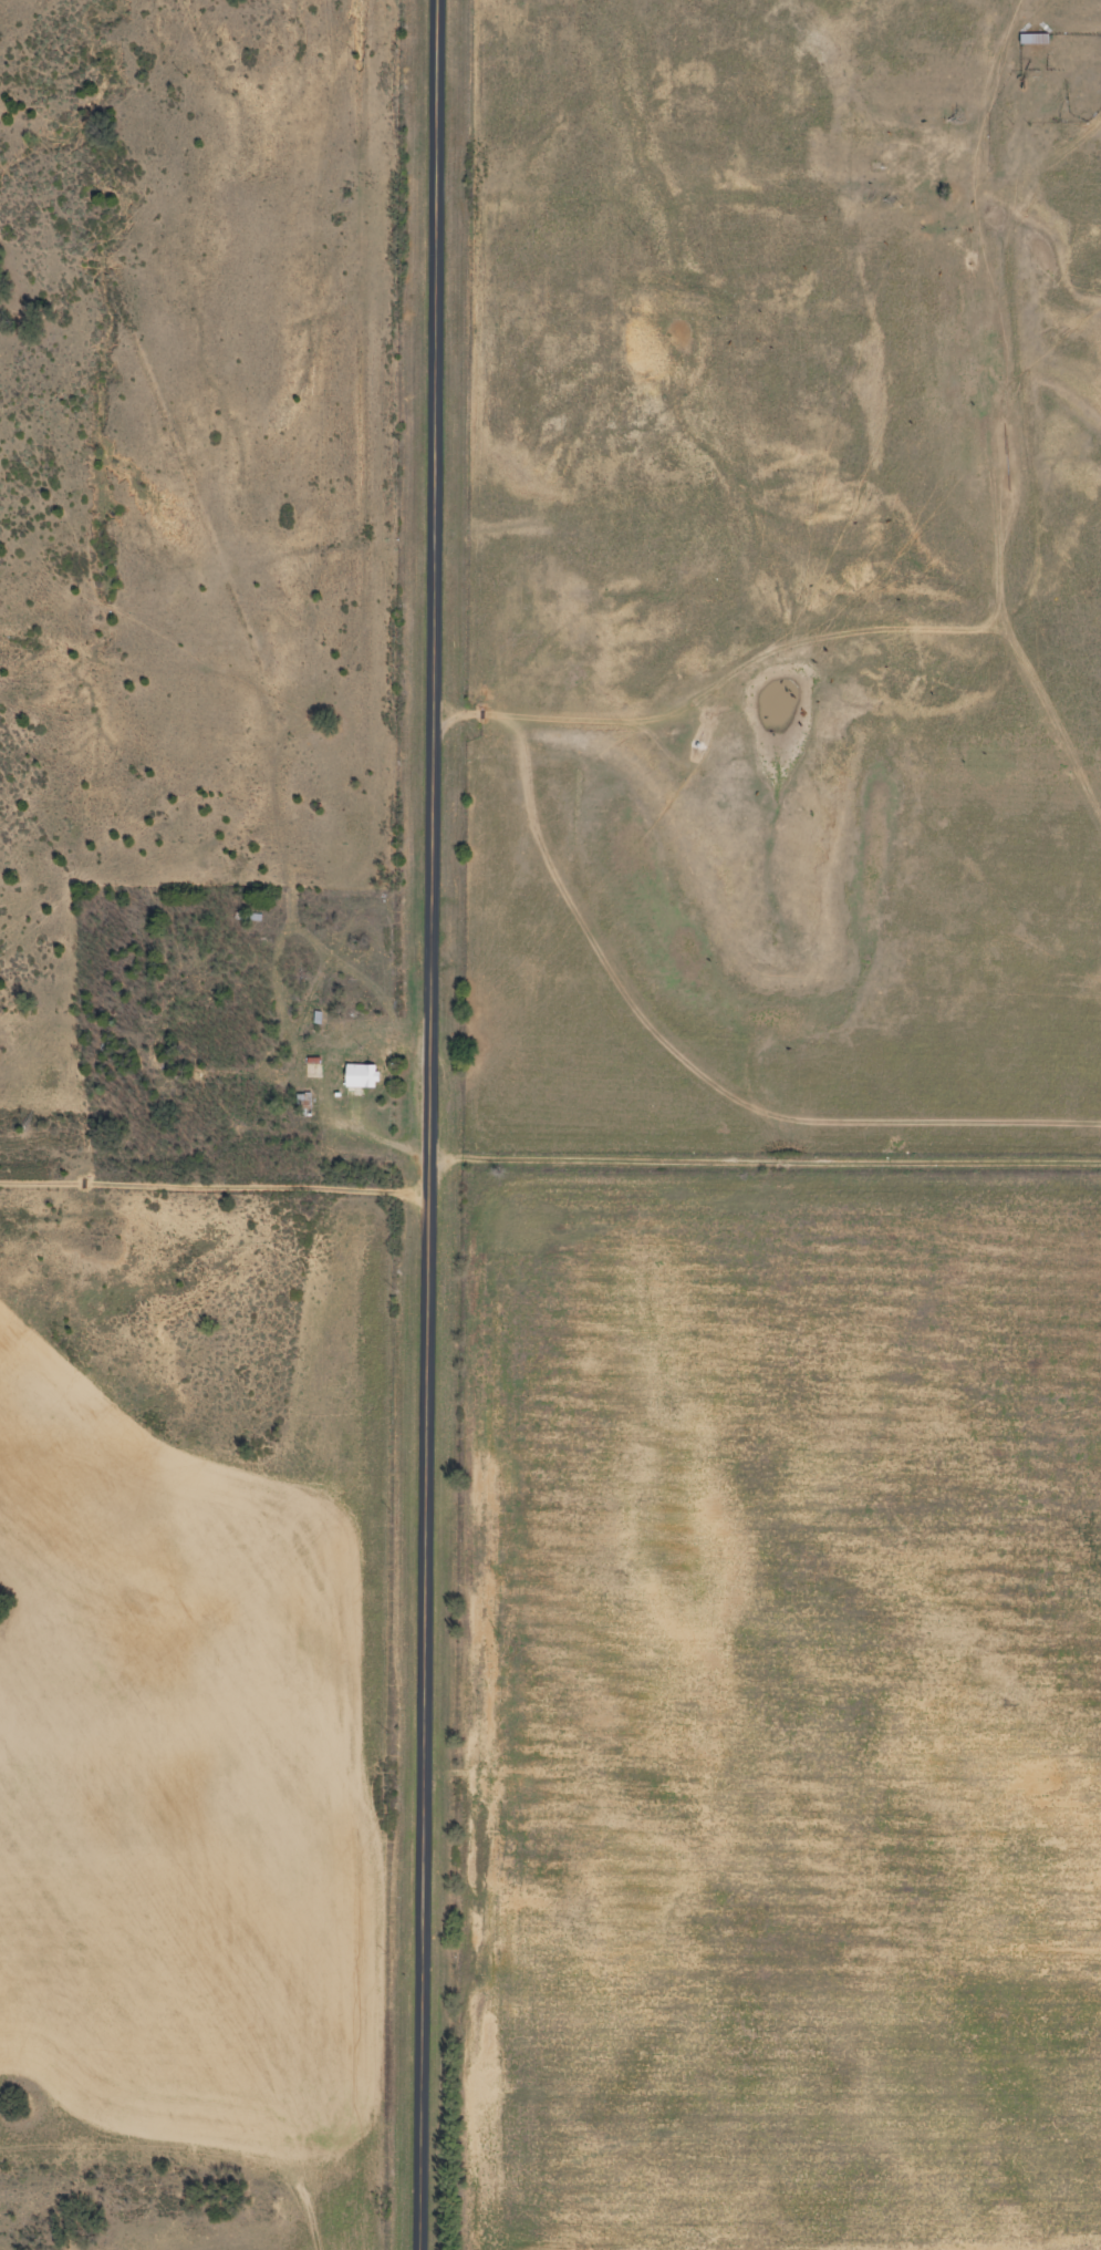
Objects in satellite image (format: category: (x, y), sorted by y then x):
building: (1034, 38)
building: (901, 161)
building: (359, 1075)
building: (302, 1103)
road: (428, 1125)

